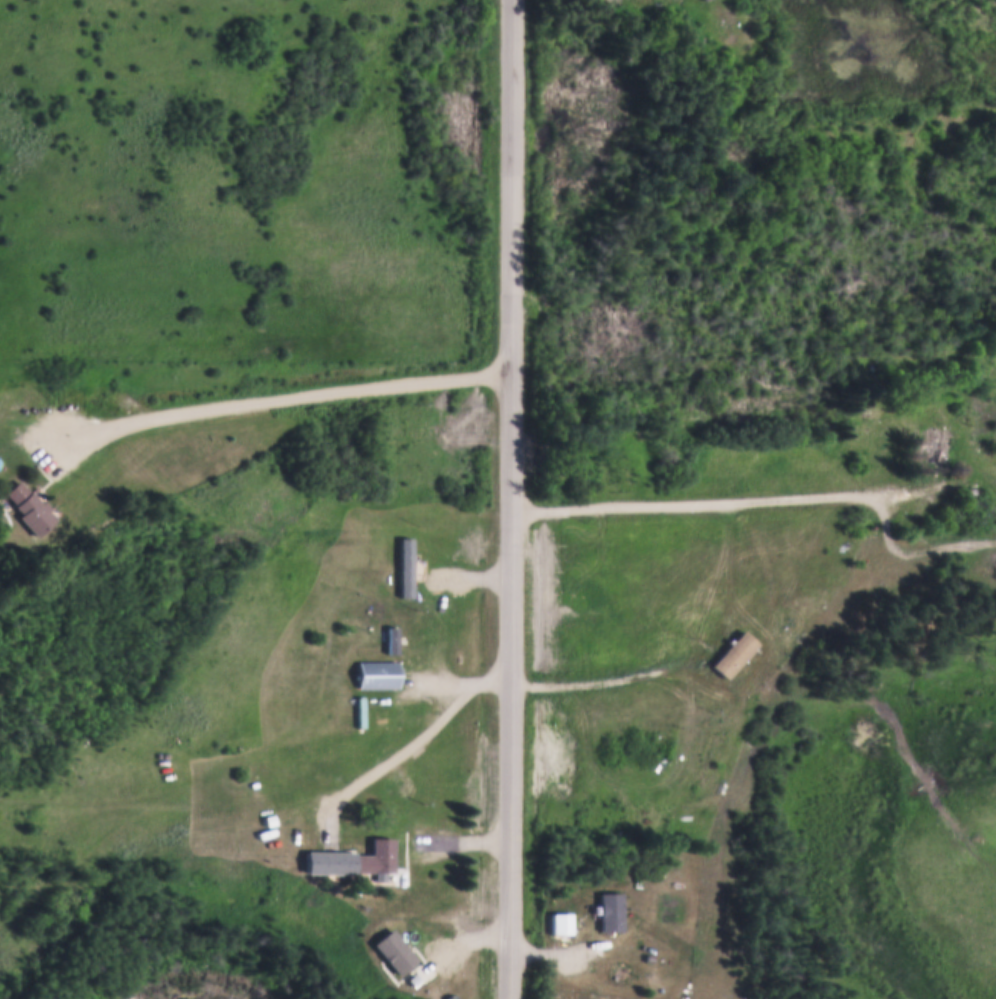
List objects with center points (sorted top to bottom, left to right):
building: (701, 0)
building: (671, 1)
road: (280, 398)
building: (867, 411)
building: (936, 442)
road: (515, 499)
road: (727, 505)
building: (26, 511)
road: (919, 552)
building: (408, 566)
building: (733, 651)
building: (377, 673)
road: (404, 751)
road: (158, 838)
building: (373, 856)
building: (609, 909)
building: (559, 921)
building: (392, 950)
building: (648, 956)
building: (411, 977)

